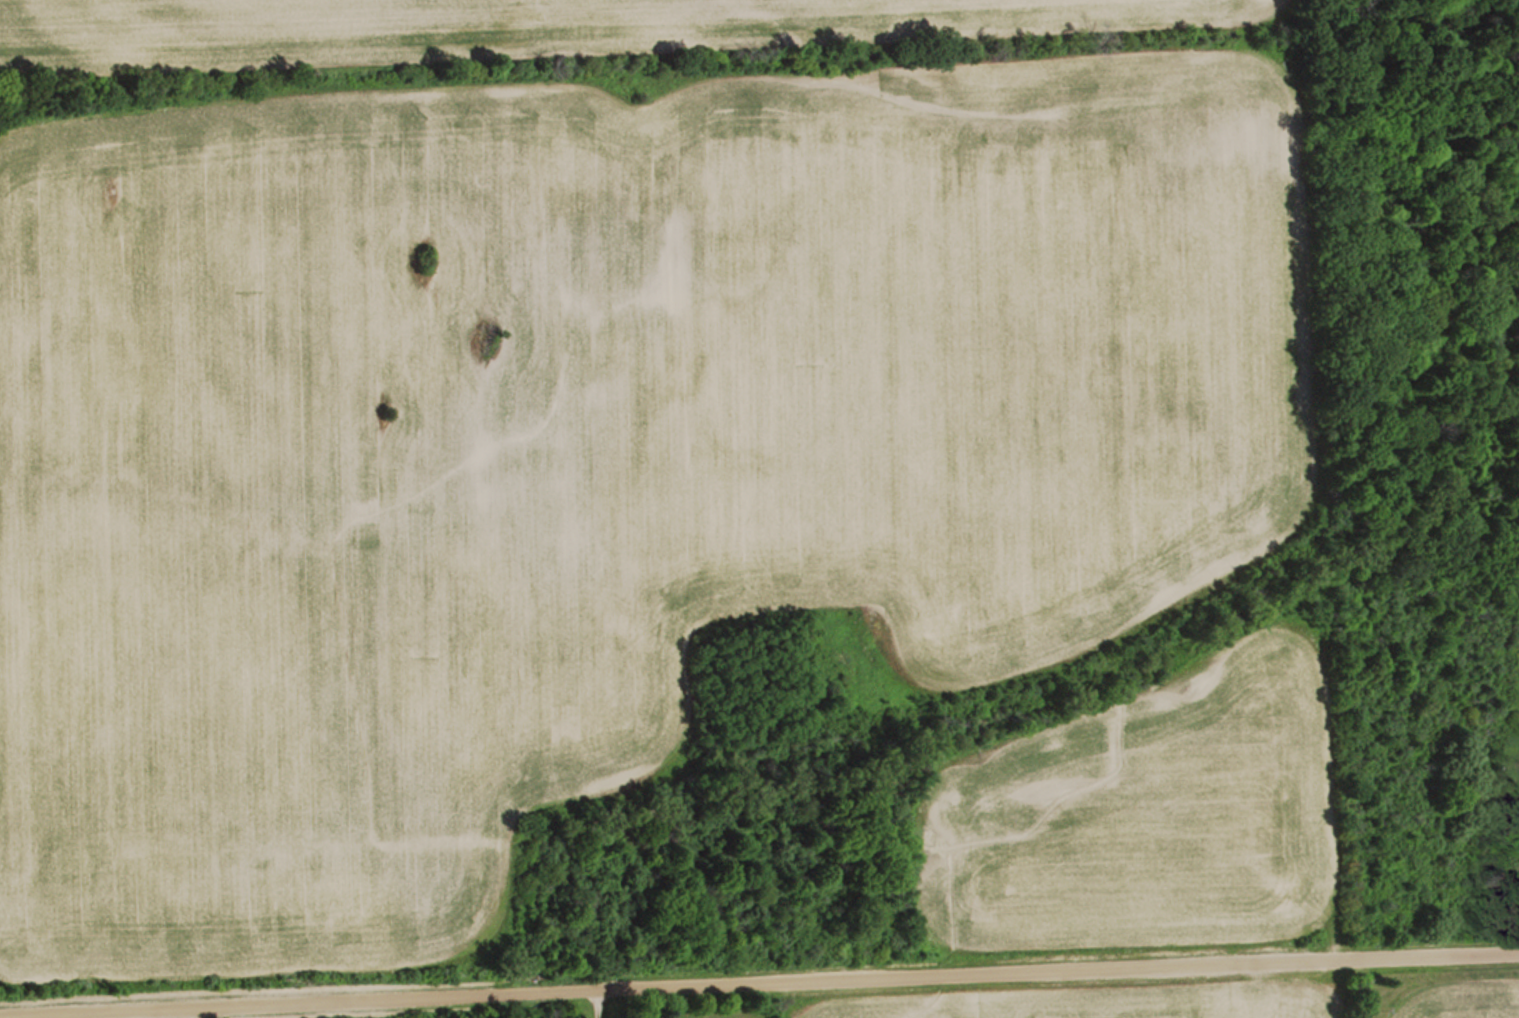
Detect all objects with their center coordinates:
road: (759, 983)

